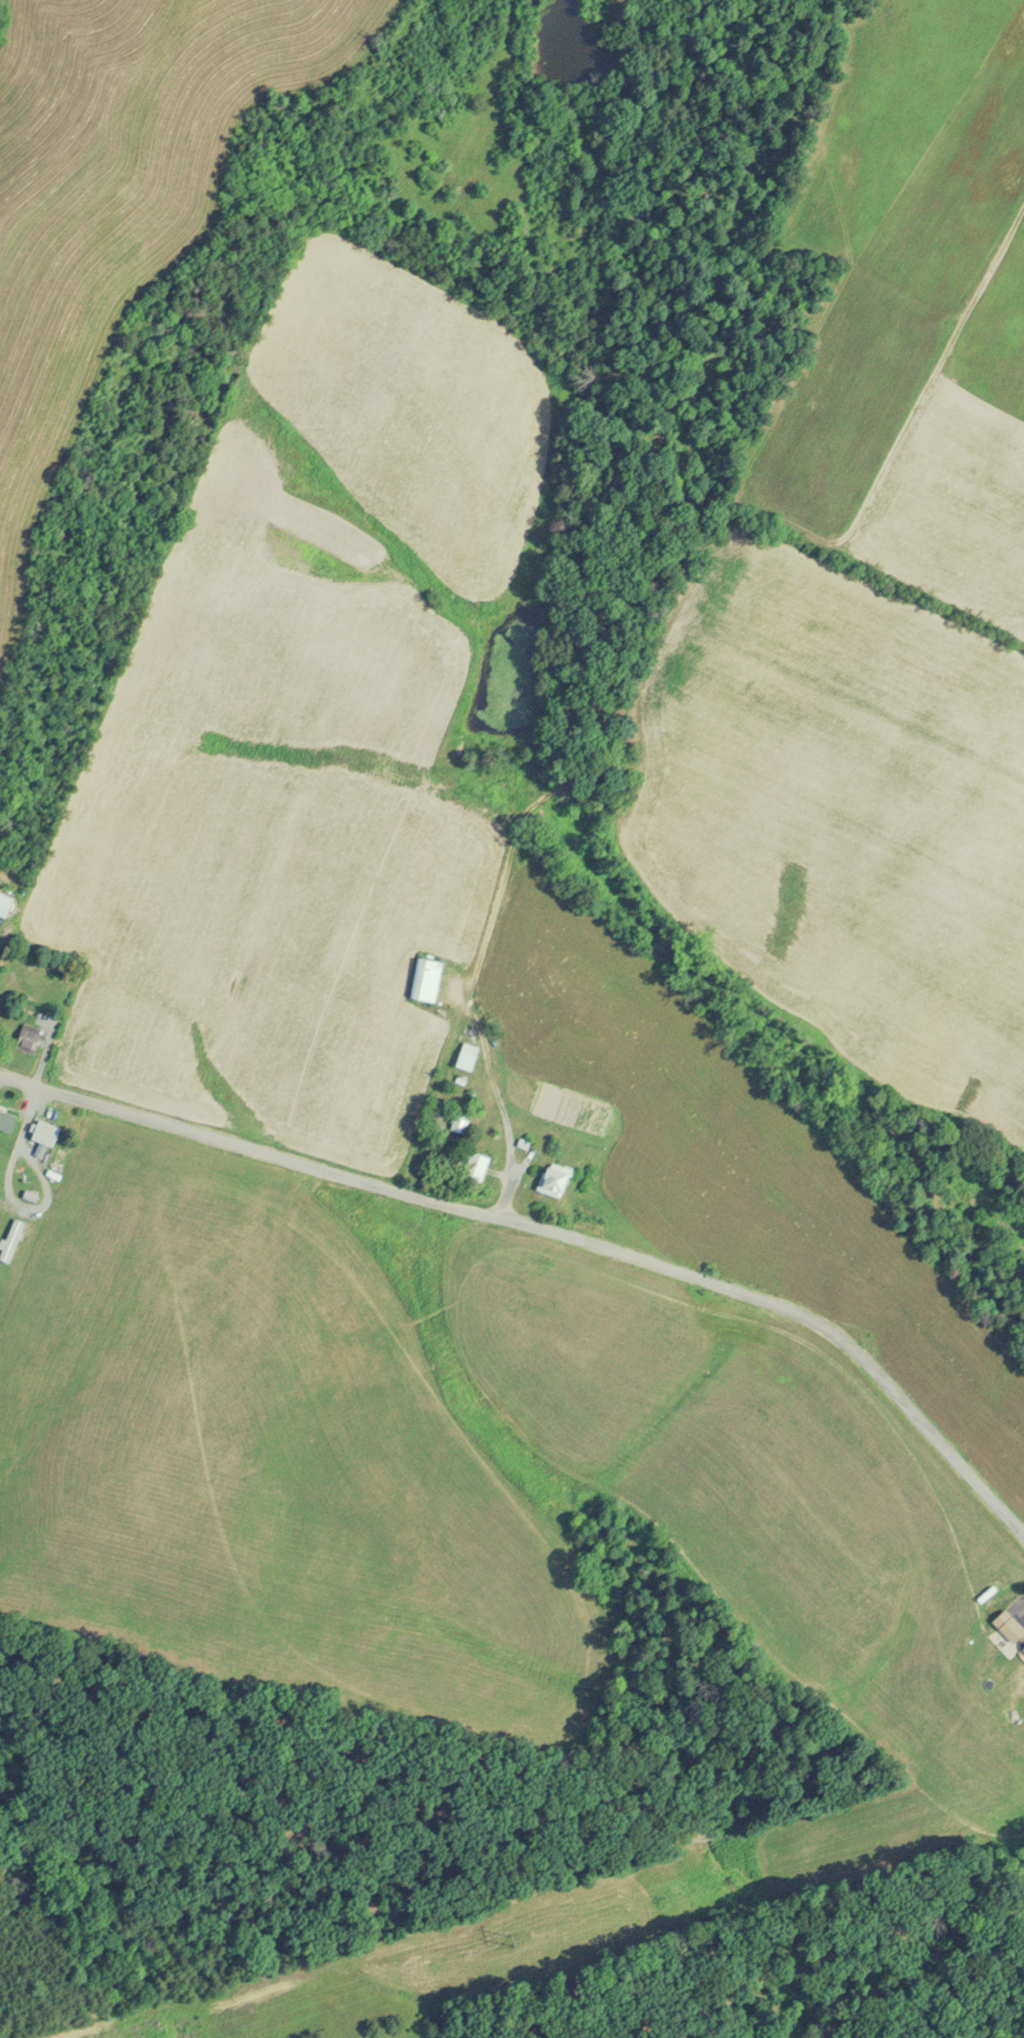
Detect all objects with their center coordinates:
crop: (116, 191)
crop: (908, 227)
crop: (969, 460)
crop: (310, 726)
crop: (849, 811)
building: (7, 905)
building: (428, 979)
building: (31, 1038)
building: (468, 1058)
road: (43, 1059)
road: (491, 1106)
building: (8, 1121)
building: (460, 1123)
building: (49, 1131)
building: (523, 1141)
building: (476, 1164)
crop: (741, 1169)
building: (558, 1177)
road: (10, 1192)
building: (32, 1196)
road: (552, 1235)
building: (12, 1241)
crop: (712, 1451)
crop: (268, 1458)
building: (994, 1600)
building: (1015, 1628)
building: (1023, 1653)

